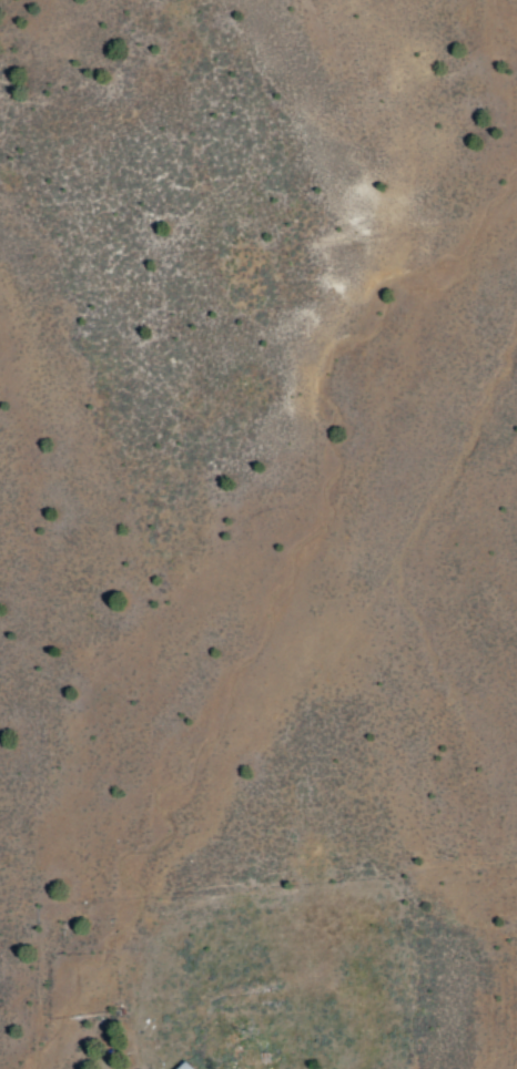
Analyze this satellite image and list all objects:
building: (182, 1066)

